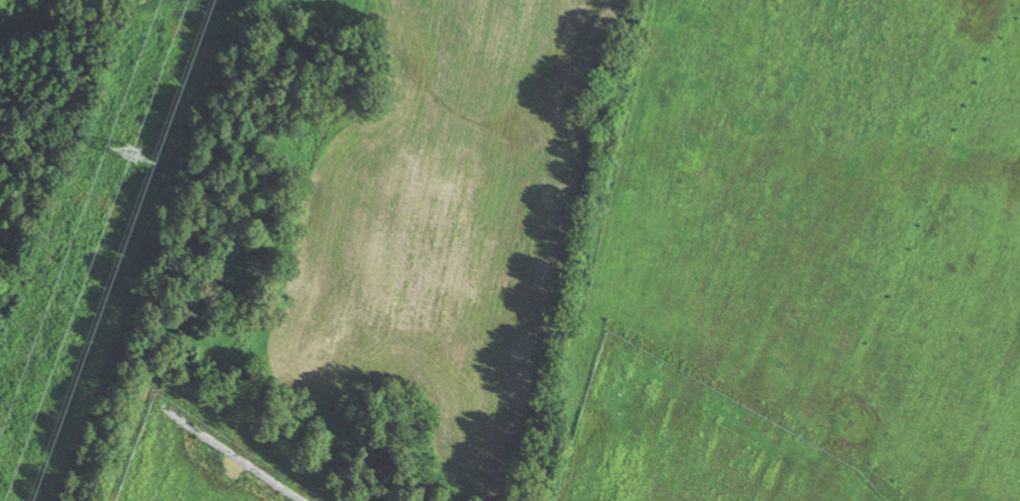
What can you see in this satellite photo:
power tower: (131, 152)

